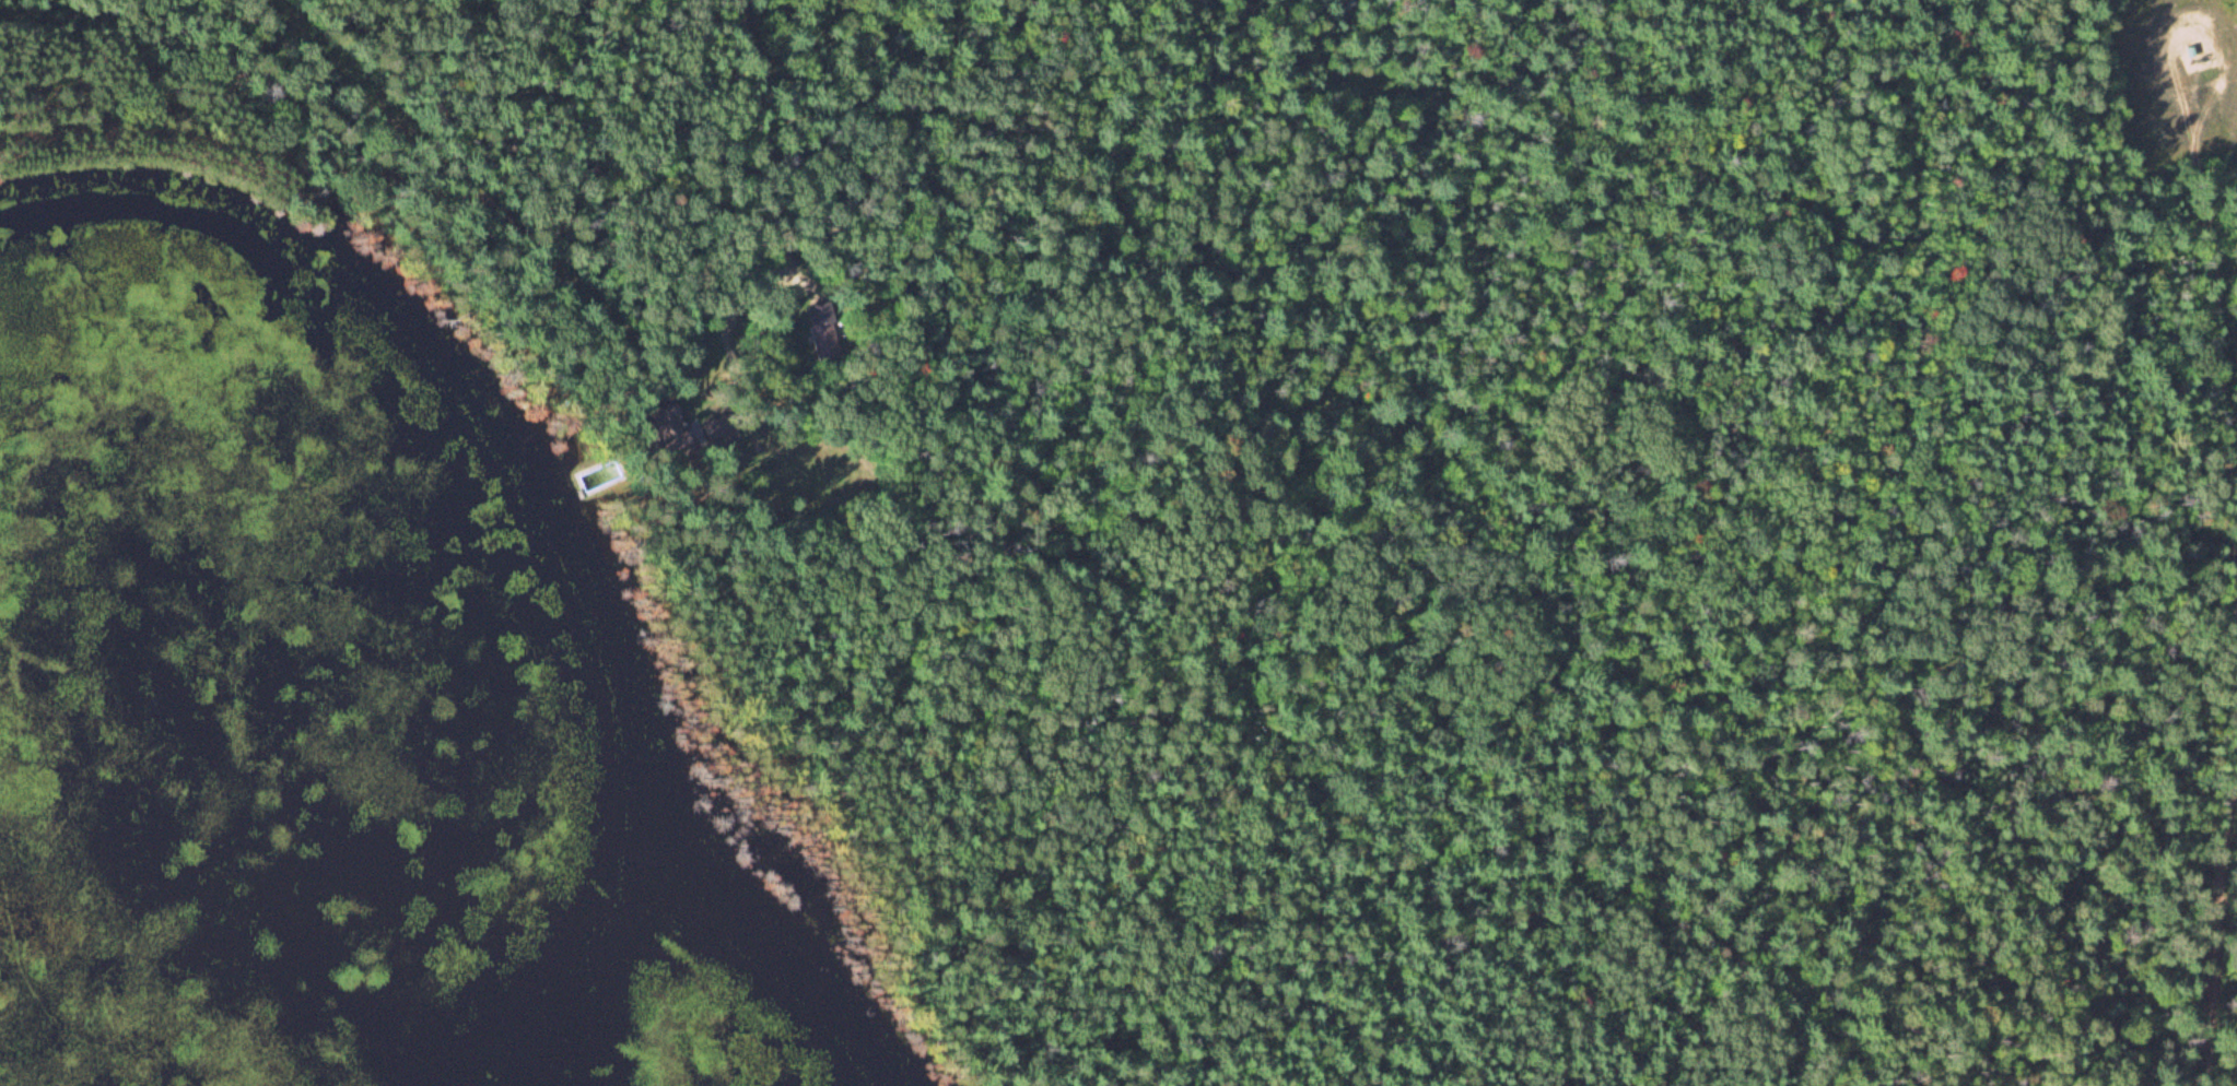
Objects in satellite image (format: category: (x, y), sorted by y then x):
petroleum well: (2189, 47)
road: (775, 149)
road: (503, 232)
building: (824, 330)
road: (2215, 353)
building: (836, 501)
road: (2220, 930)

